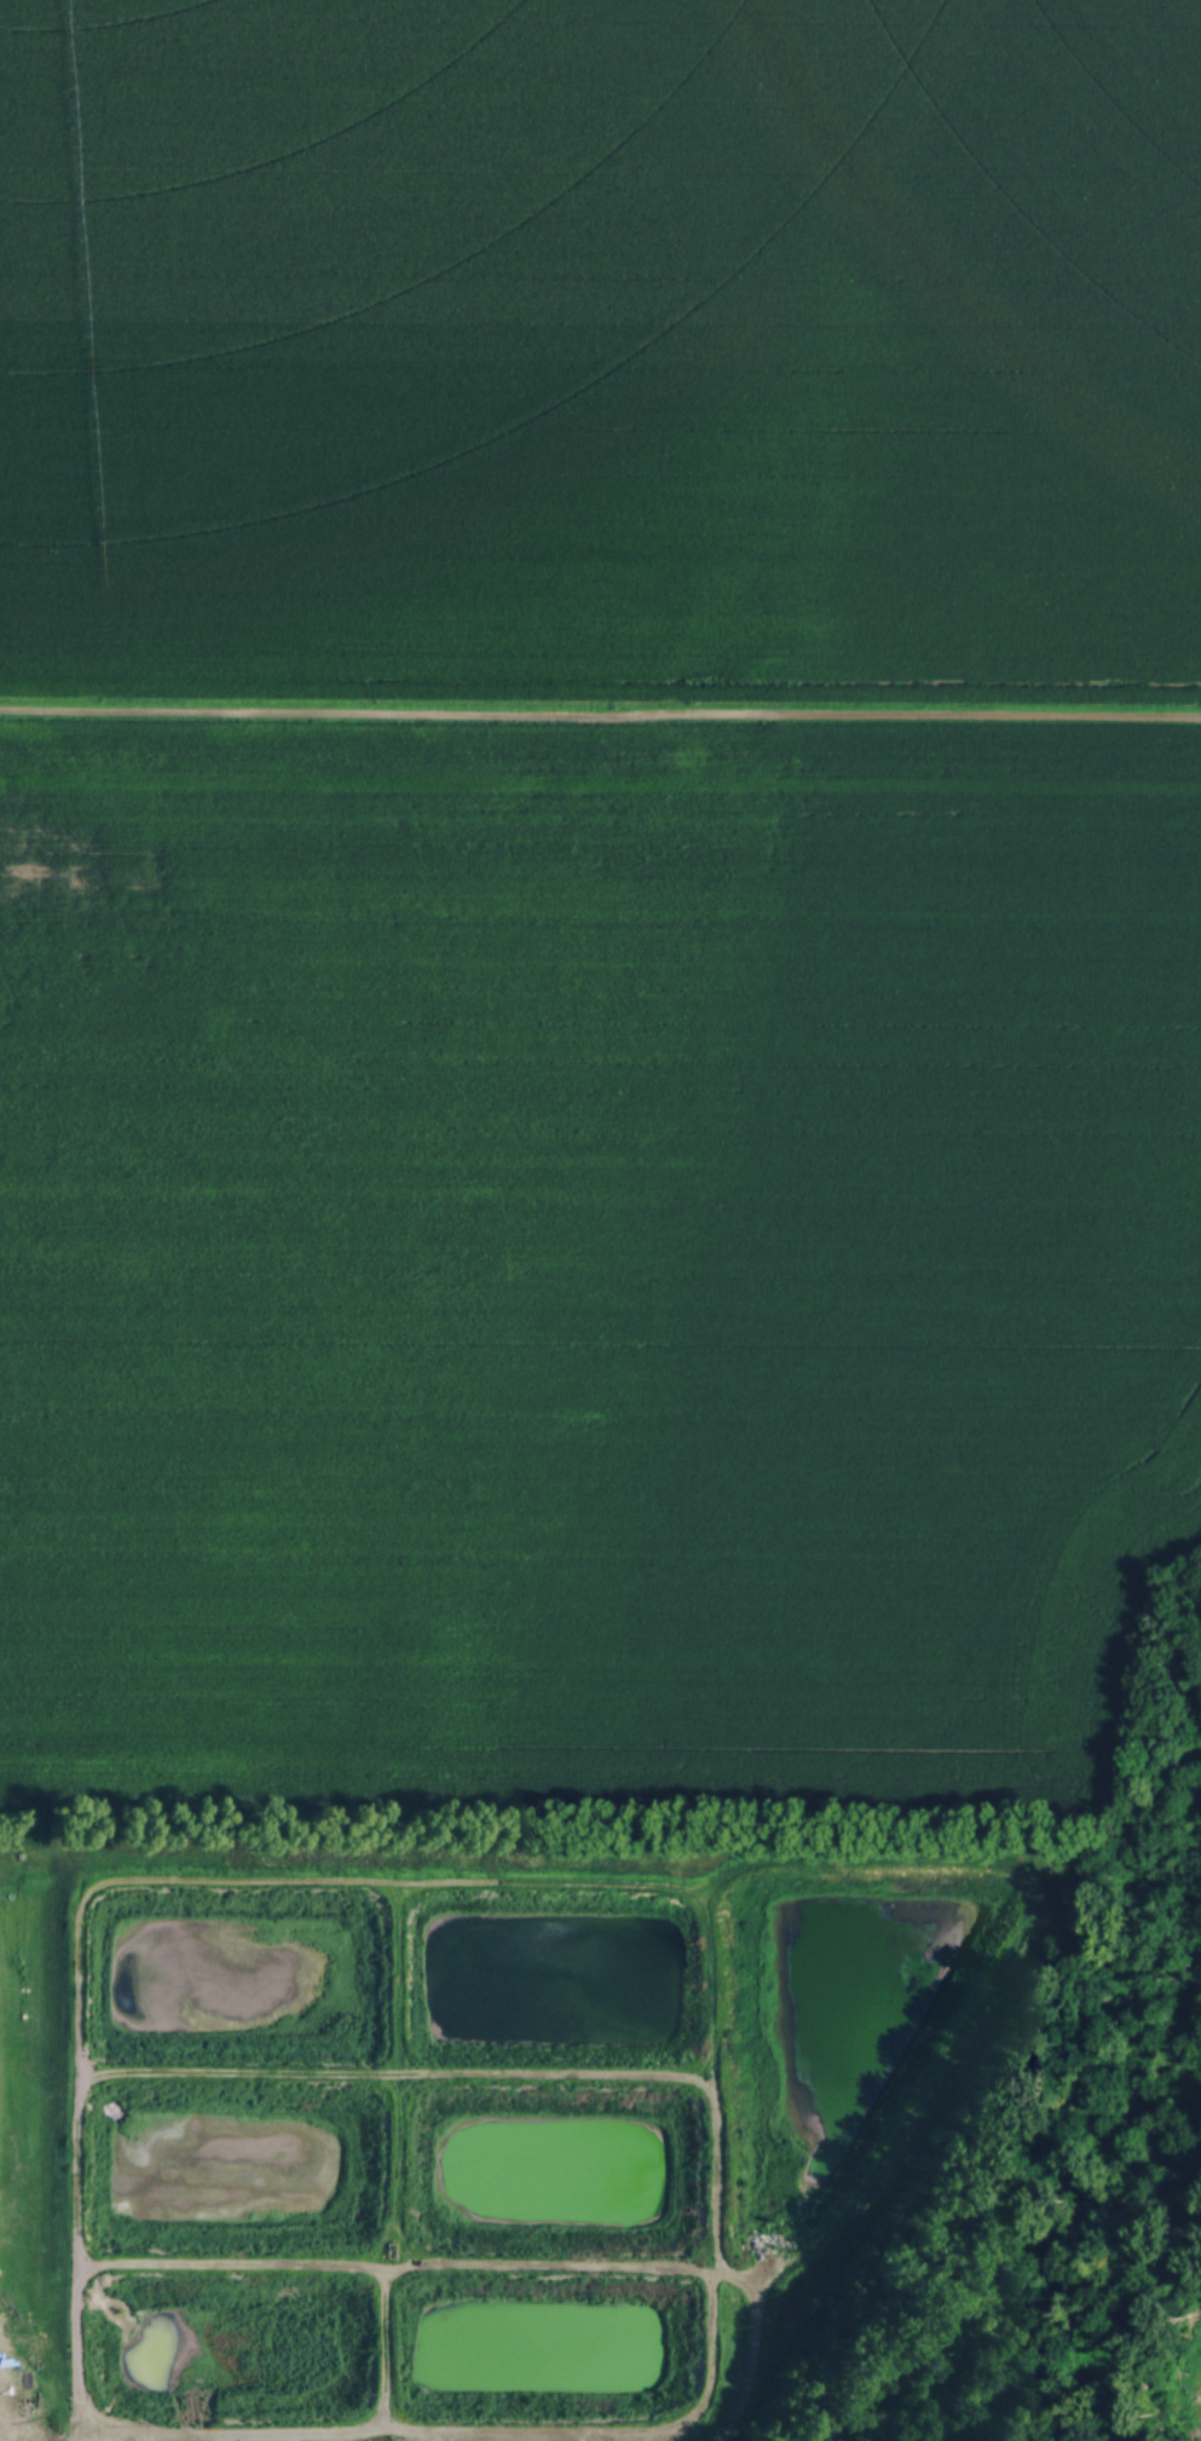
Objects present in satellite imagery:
crop: (600, 348)
crop: (595, 1251)
road: (601, 1882)
wastewater plant: (475, 2105)
road: (477, 2426)
road: (1, 2439)

